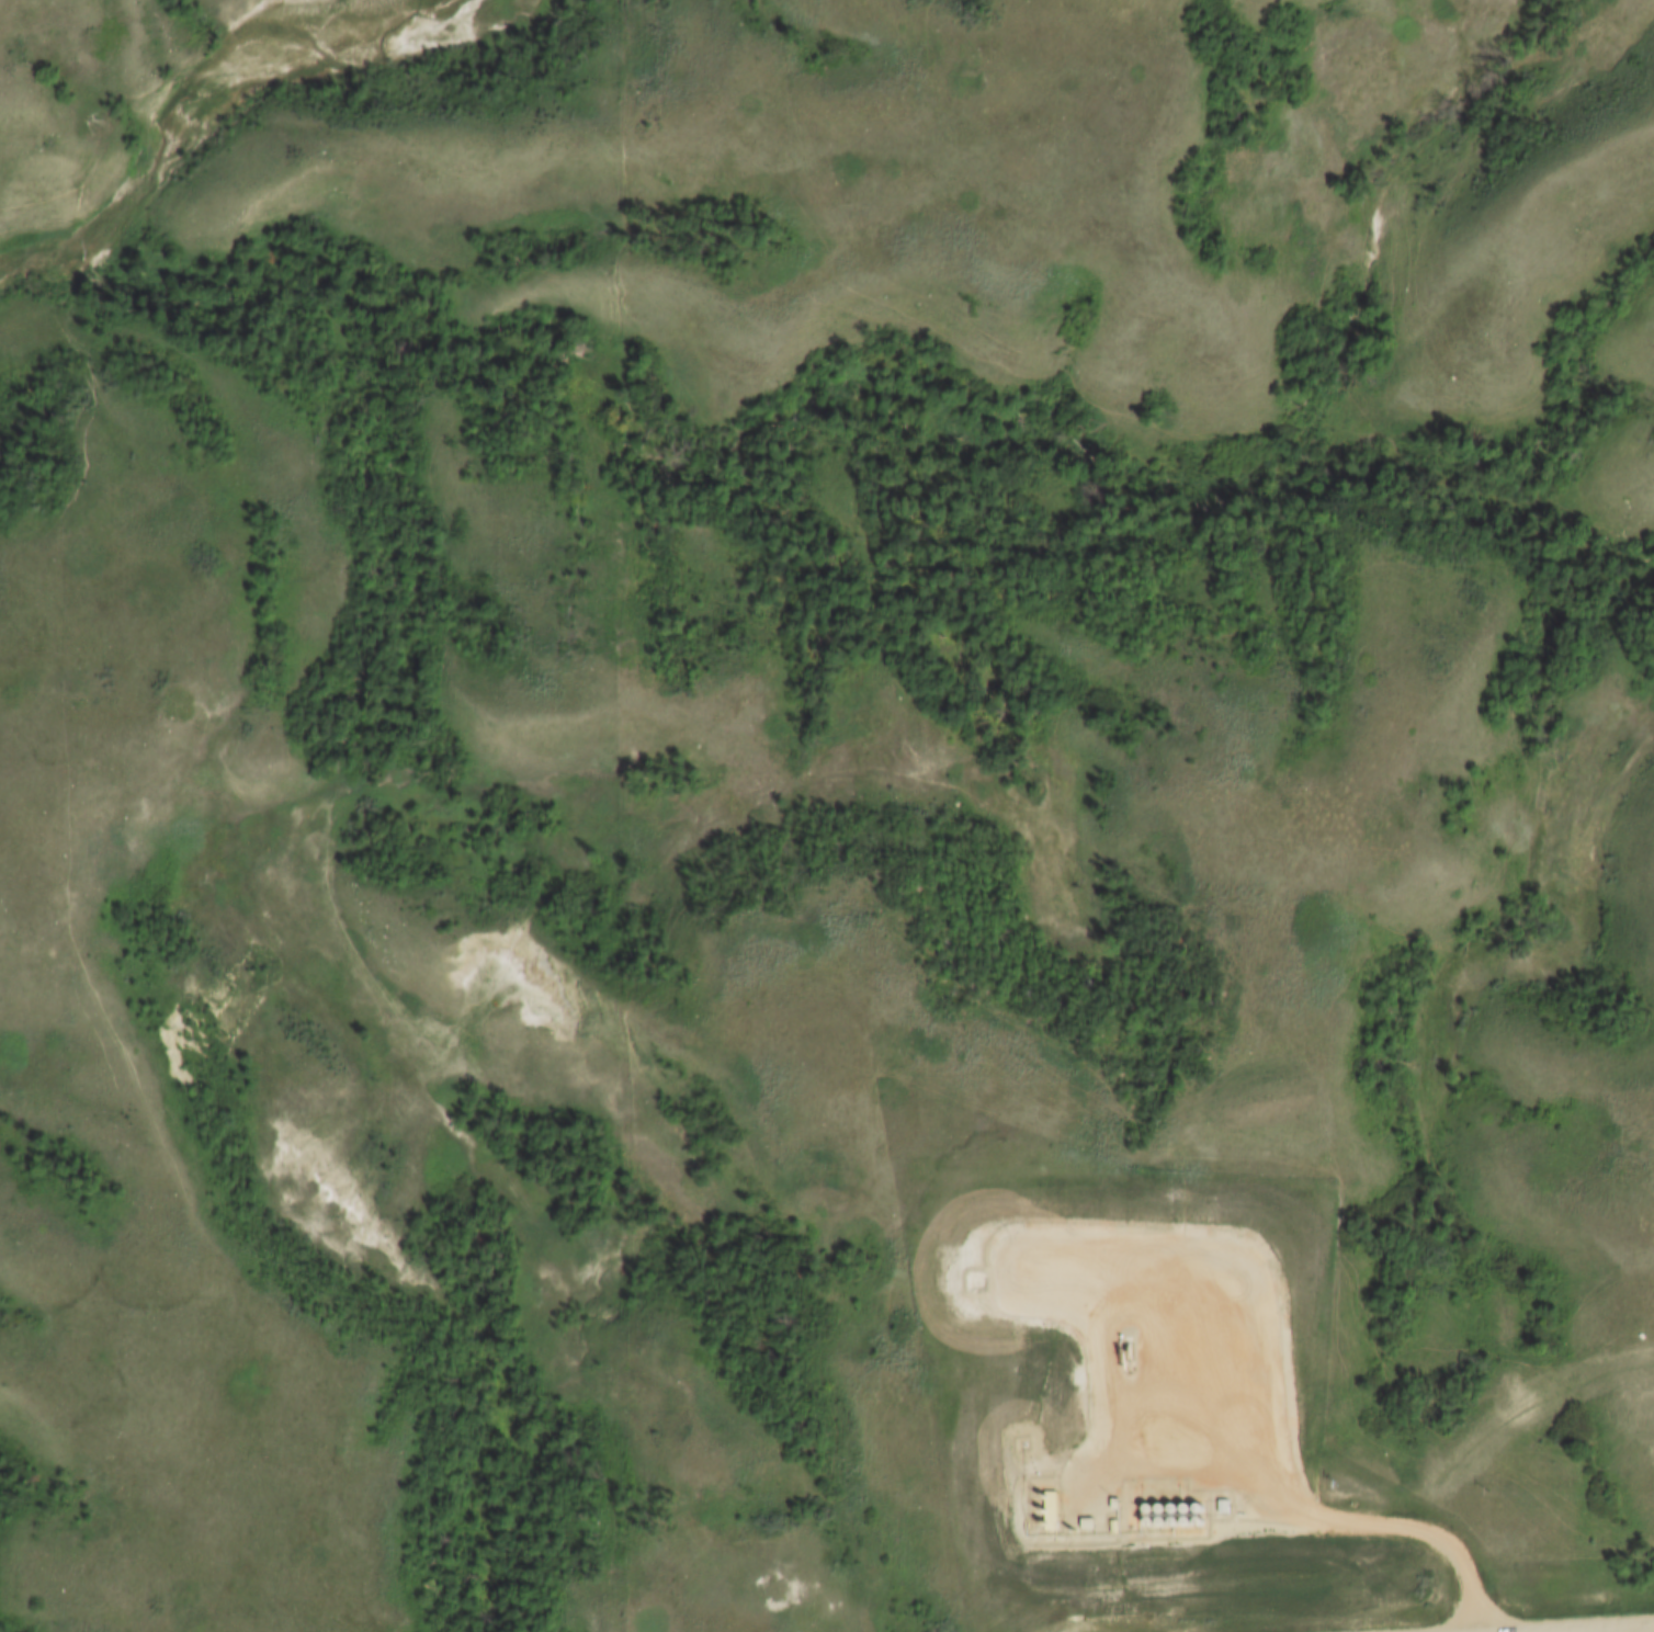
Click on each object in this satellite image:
petroleum well: (1126, 1351)
building: (1145, 1486)
storage tank: (1145, 1486)
building: (1160, 1486)
storage tank: (1160, 1486)
building: (1172, 1487)
storage tank: (1172, 1487)
building: (1111, 1497)
building: (1223, 1500)
building: (1174, 1501)
storage tank: (1174, 1501)
building: (1148, 1503)
storage tank: (1148, 1503)
building: (1162, 1503)
storage tank: (1162, 1503)
building: (1187, 1503)
storage tank: (1187, 1503)
building: (1200, 1503)
storage tank: (1200, 1503)
building: (1200, 1515)
storage tank: (1200, 1515)
building: (1149, 1516)
storage tank: (1149, 1516)
building: (1163, 1516)
storage tank: (1163, 1516)
building: (1175, 1516)
storage tank: (1175, 1516)
building: (1187, 1516)
storage tank: (1187, 1516)
building: (1084, 1518)
building: (1111, 1521)
road: (1611, 1629)

